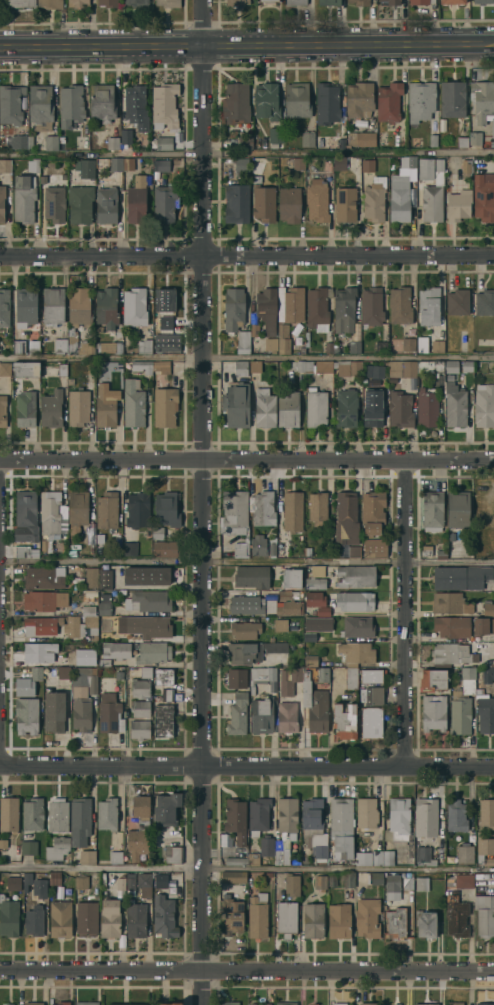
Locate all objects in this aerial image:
building: (268, 1)
building: (482, 1)
building: (236, 2)
building: (296, 2)
building: (329, 2)
building: (359, 2)
building: (392, 2)
building: (420, 2)
building: (452, 2)
building: (20, 3)
building: (50, 3)
building: (78, 3)
building: (109, 3)
building: (137, 3)
building: (168, 3)
road: (385, 43)
road: (63, 44)
road: (164, 45)
road: (238, 45)
building: (360, 99)
building: (452, 99)
building: (297, 100)
building: (421, 100)
building: (482, 100)
building: (267, 101)
building: (389, 101)
building: (102, 102)
building: (328, 102)
building: (236, 103)
building: (11, 104)
building: (71, 104)
building: (40, 106)
building: (136, 106)
building: (165, 106)
building: (275, 134)
building: (126, 136)
building: (475, 138)
building: (62, 139)
building: (307, 139)
building: (361, 139)
building: (433, 140)
building: (19, 141)
building: (31, 141)
building: (245, 141)
building: (51, 142)
building: (164, 142)
building: (462, 142)
building: (113, 143)
building: (342, 143)
road: (246, 153)
building: (100, 160)
building: (412, 161)
building: (339, 162)
building: (116, 163)
building: (128, 163)
building: (297, 163)
building: (241, 164)
building: (5, 165)
building: (33, 165)
building: (327, 165)
building: (367, 165)
building: (467, 165)
building: (160, 166)
building: (87, 168)
building: (426, 169)
building: (439, 171)
building: (52, 177)
building: (24, 198)
building: (399, 198)
building: (483, 198)
building: (374, 199)
building: (137, 200)
building: (317, 200)
building: (165, 202)
building: (432, 202)
building: (80, 203)
building: (236, 203)
building: (263, 203)
building: (2, 204)
building: (54, 204)
building: (289, 204)
building: (345, 204)
building: (106, 205)
building: (457, 206)
road: (247, 253)
road: (200, 281)
building: (458, 302)
building: (484, 302)
building: (429, 303)
building: (294, 304)
building: (53, 305)
building: (136, 305)
building: (400, 305)
building: (371, 306)
building: (4, 307)
building: (25, 307)
building: (79, 307)
building: (107, 307)
building: (318, 308)
building: (233, 309)
building: (267, 309)
building: (344, 310)
building: (165, 317)
building: (33, 326)
building: (254, 330)
building: (283, 338)
building: (307, 338)
building: (166, 342)
building: (243, 342)
building: (271, 343)
building: (408, 344)
building: (422, 344)
building: (60, 345)
building: (90, 345)
building: (19, 346)
building: (33, 346)
building: (147, 346)
building: (381, 346)
building: (438, 346)
building: (111, 347)
building: (329, 347)
building: (354, 347)
building: (84, 348)
building: (336, 350)
road: (247, 358)
building: (99, 364)
building: (114, 364)
building: (142, 366)
building: (255, 366)
building: (297, 366)
building: (430, 366)
building: (467, 366)
building: (161, 367)
building: (319, 367)
building: (451, 367)
building: (5, 368)
building: (241, 368)
building: (347, 368)
building: (26, 369)
building: (62, 369)
building: (402, 369)
building: (373, 371)
building: (288, 376)
building: (105, 402)
building: (133, 403)
building: (236, 404)
building: (455, 405)
building: (484, 405)
building: (165, 406)
building: (78, 407)
building: (427, 407)
building: (25, 408)
building: (265, 408)
building: (316, 408)
building: (346, 408)
building: (51, 409)
building: (288, 409)
building: (401, 409)
building: (3, 411)
building: (373, 412)
road: (247, 459)
building: (317, 507)
building: (263, 508)
building: (167, 509)
building: (458, 509)
building: (78, 510)
building: (107, 510)
building: (138, 510)
building: (293, 510)
building: (432, 510)
building: (373, 511)
road: (406, 512)
building: (26, 516)
building: (52, 518)
building: (235, 519)
building: (346, 519)
building: (159, 532)
building: (76, 546)
building: (258, 546)
building: (375, 547)
building: (130, 548)
building: (166, 548)
building: (273, 548)
building: (427, 550)
building: (24, 551)
building: (308, 551)
building: (354, 551)
building: (72, 552)
building: (440, 553)
road: (98, 562)
road: (301, 563)
road: (450, 564)
building: (146, 575)
building: (355, 575)
building: (252, 576)
building: (92, 577)
building: (292, 577)
building: (461, 577)
building: (42, 578)
building: (105, 578)
building: (316, 578)
building: (76, 586)
building: (123, 591)
building: (290, 594)
building: (315, 599)
building: (44, 600)
building: (150, 600)
building: (354, 600)
building: (450, 602)
building: (105, 604)
building: (245, 604)
building: (289, 607)
building: (488, 608)
building: (89, 610)
building: (323, 611)
building: (318, 623)
building: (91, 624)
building: (280, 624)
building: (41, 625)
building: (482, 625)
building: (149, 626)
building: (357, 626)
building: (452, 626)
building: (74, 627)
building: (245, 629)
building: (309, 636)
building: (270, 645)
building: (116, 650)
building: (39, 652)
building: (152, 652)
building: (357, 652)
building: (242, 653)
building: (452, 653)
building: (311, 660)
building: (62, 661)
building: (101, 662)
road: (404, 664)
building: (36, 672)
building: (146, 672)
building: (121, 673)
building: (262, 674)
building: (288, 674)
building: (488, 674)
building: (372, 675)
building: (163, 677)
building: (237, 678)
building: (351, 678)
building: (434, 678)
building: (468, 679)
building: (65, 685)
building: (24, 687)
building: (140, 688)
building: (167, 695)
building: (82, 696)
building: (373, 696)
building: (316, 698)
building: (141, 708)
building: (433, 712)
building: (460, 712)
building: (485, 712)
building: (237, 714)
building: (26, 715)
building: (262, 715)
building: (289, 715)
building: (110, 717)
building: (55, 719)
building: (163, 720)
building: (344, 720)
building: (371, 722)
building: (139, 729)
road: (247, 764)
road: (196, 784)
building: (166, 809)
building: (366, 811)
building: (486, 811)
building: (33, 813)
building: (258, 813)
building: (9, 814)
building: (107, 814)
building: (456, 814)
building: (58, 815)
building: (425, 815)
building: (236, 818)
building: (80, 820)
building: (285, 822)
building: (399, 822)
building: (342, 824)
building: (314, 826)
building: (139, 827)
building: (3, 843)
building: (266, 844)
building: (29, 847)
building: (484, 847)
building: (58, 848)
building: (465, 851)
building: (423, 853)
building: (388, 854)
building: (174, 855)
building: (369, 855)
building: (87, 857)
building: (115, 857)
building: (244, 859)
road: (246, 868)
building: (269, 873)
building: (233, 874)
building: (55, 877)
building: (348, 877)
building: (376, 877)
building: (28, 878)
building: (332, 878)
building: (464, 879)
building: (160, 880)
building: (320, 880)
building: (81, 882)
building: (292, 882)
building: (421, 882)
building: (13, 883)
building: (130, 883)
building: (144, 883)
building: (407, 883)
building: (392, 884)
building: (121, 886)
building: (40, 887)
building: (232, 912)
building: (257, 914)
building: (485, 914)
building: (456, 915)
building: (8, 916)
building: (164, 916)
building: (367, 916)
building: (286, 917)
building: (60, 918)
building: (87, 918)
building: (110, 918)
building: (339, 918)
building: (313, 919)
building: (34, 920)
building: (136, 920)
building: (396, 920)
building: (425, 922)
road: (247, 974)
building: (33, 1002)
building: (60, 1002)
building: (86, 1002)
building: (229, 1002)
building: (285, 1002)
building: (455, 1002)
building: (484, 1002)
building: (9, 1003)
building: (148, 1003)
building: (260, 1003)
building: (313, 1003)
building: (339, 1003)
building: (368, 1003)
building: (395, 1003)
building: (425, 1003)

